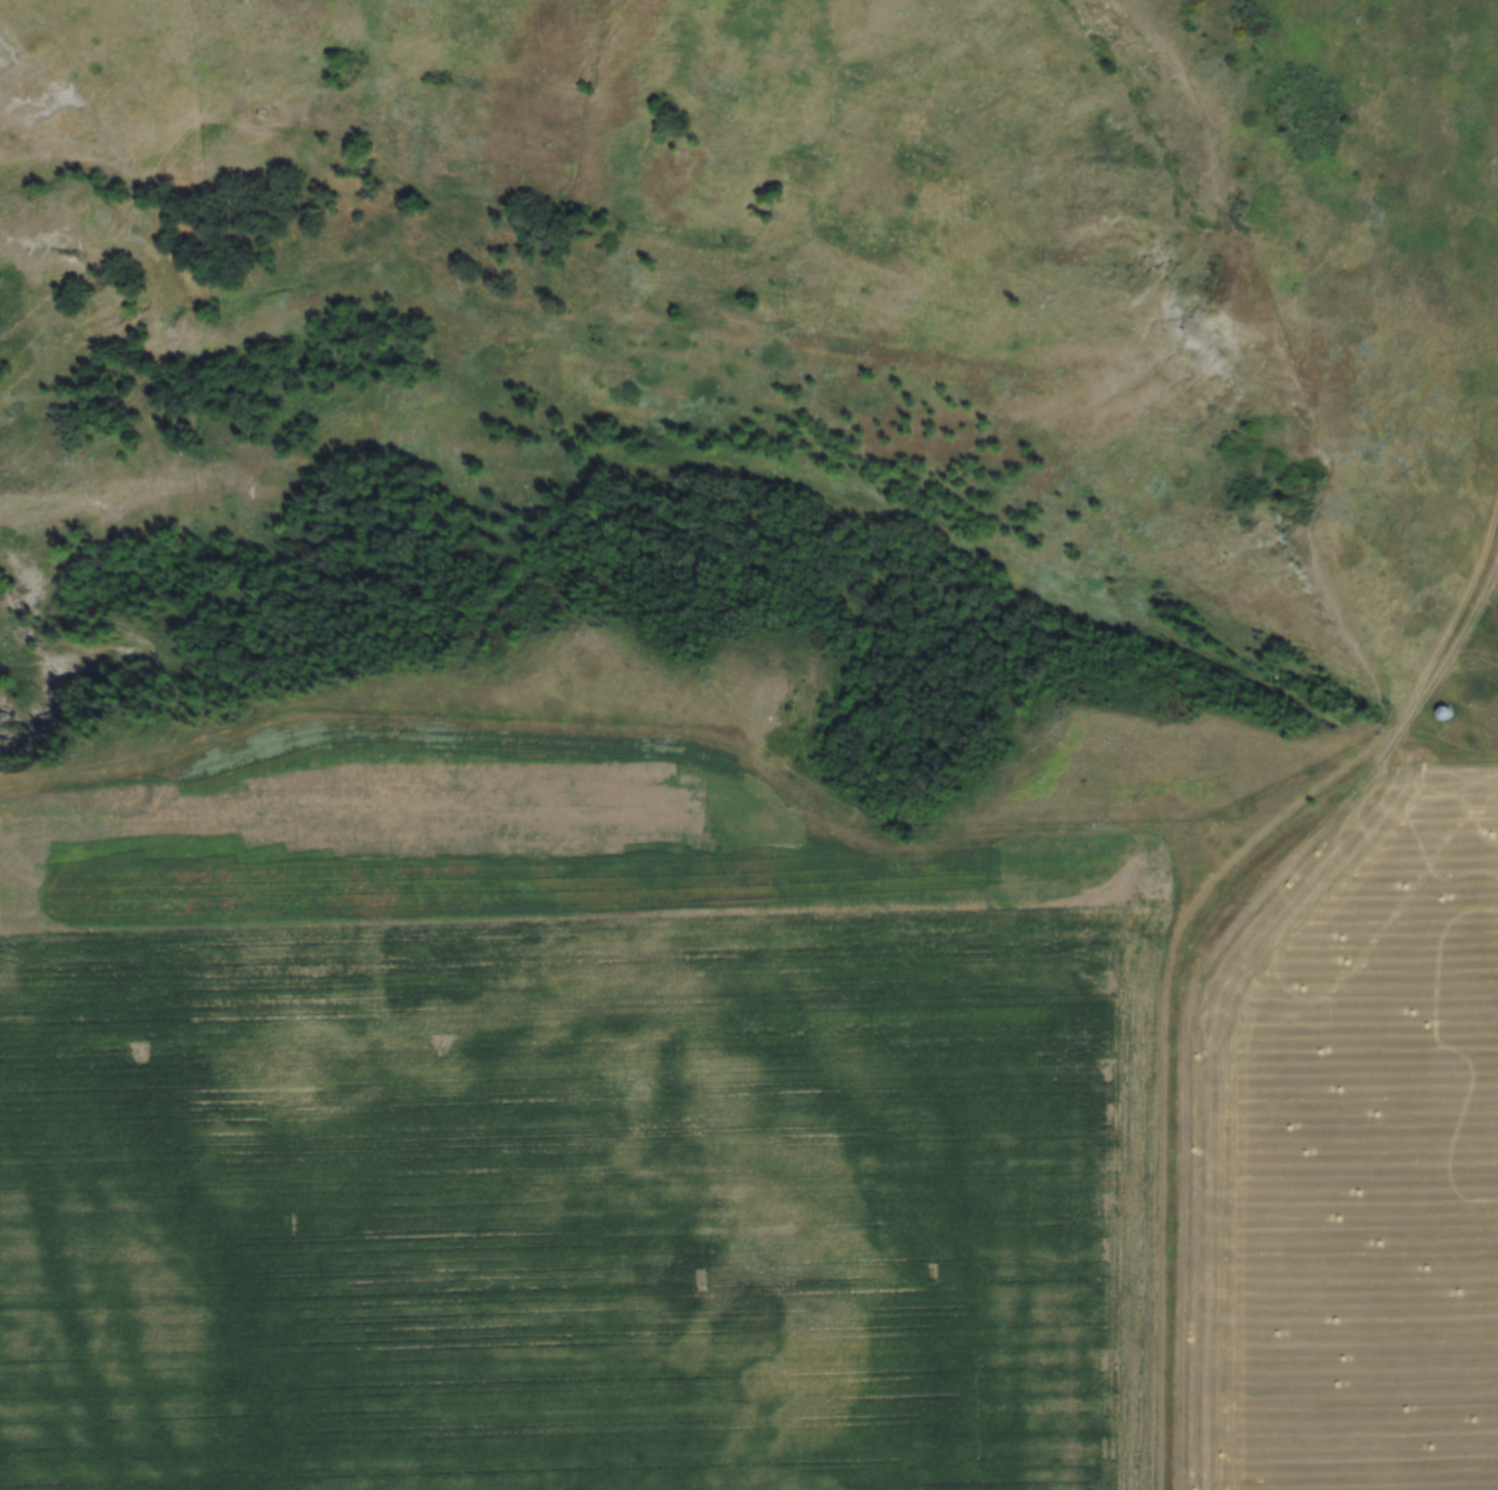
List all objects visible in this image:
building: (1448, 712)
road: (1193, 979)

